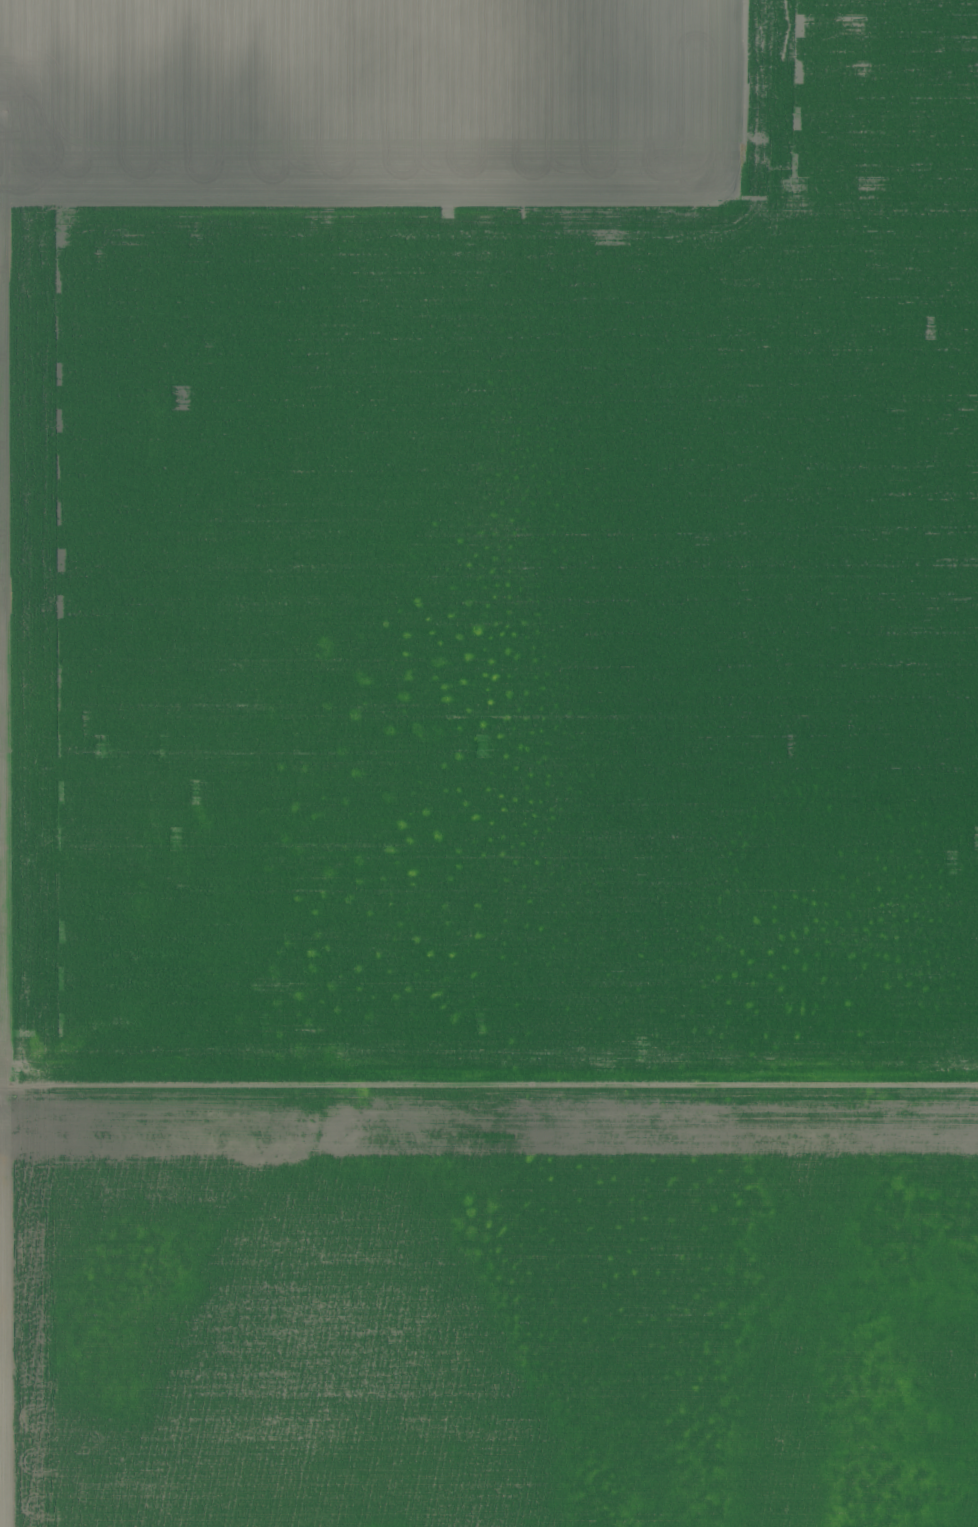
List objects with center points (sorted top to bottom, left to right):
road: (489, 1084)

